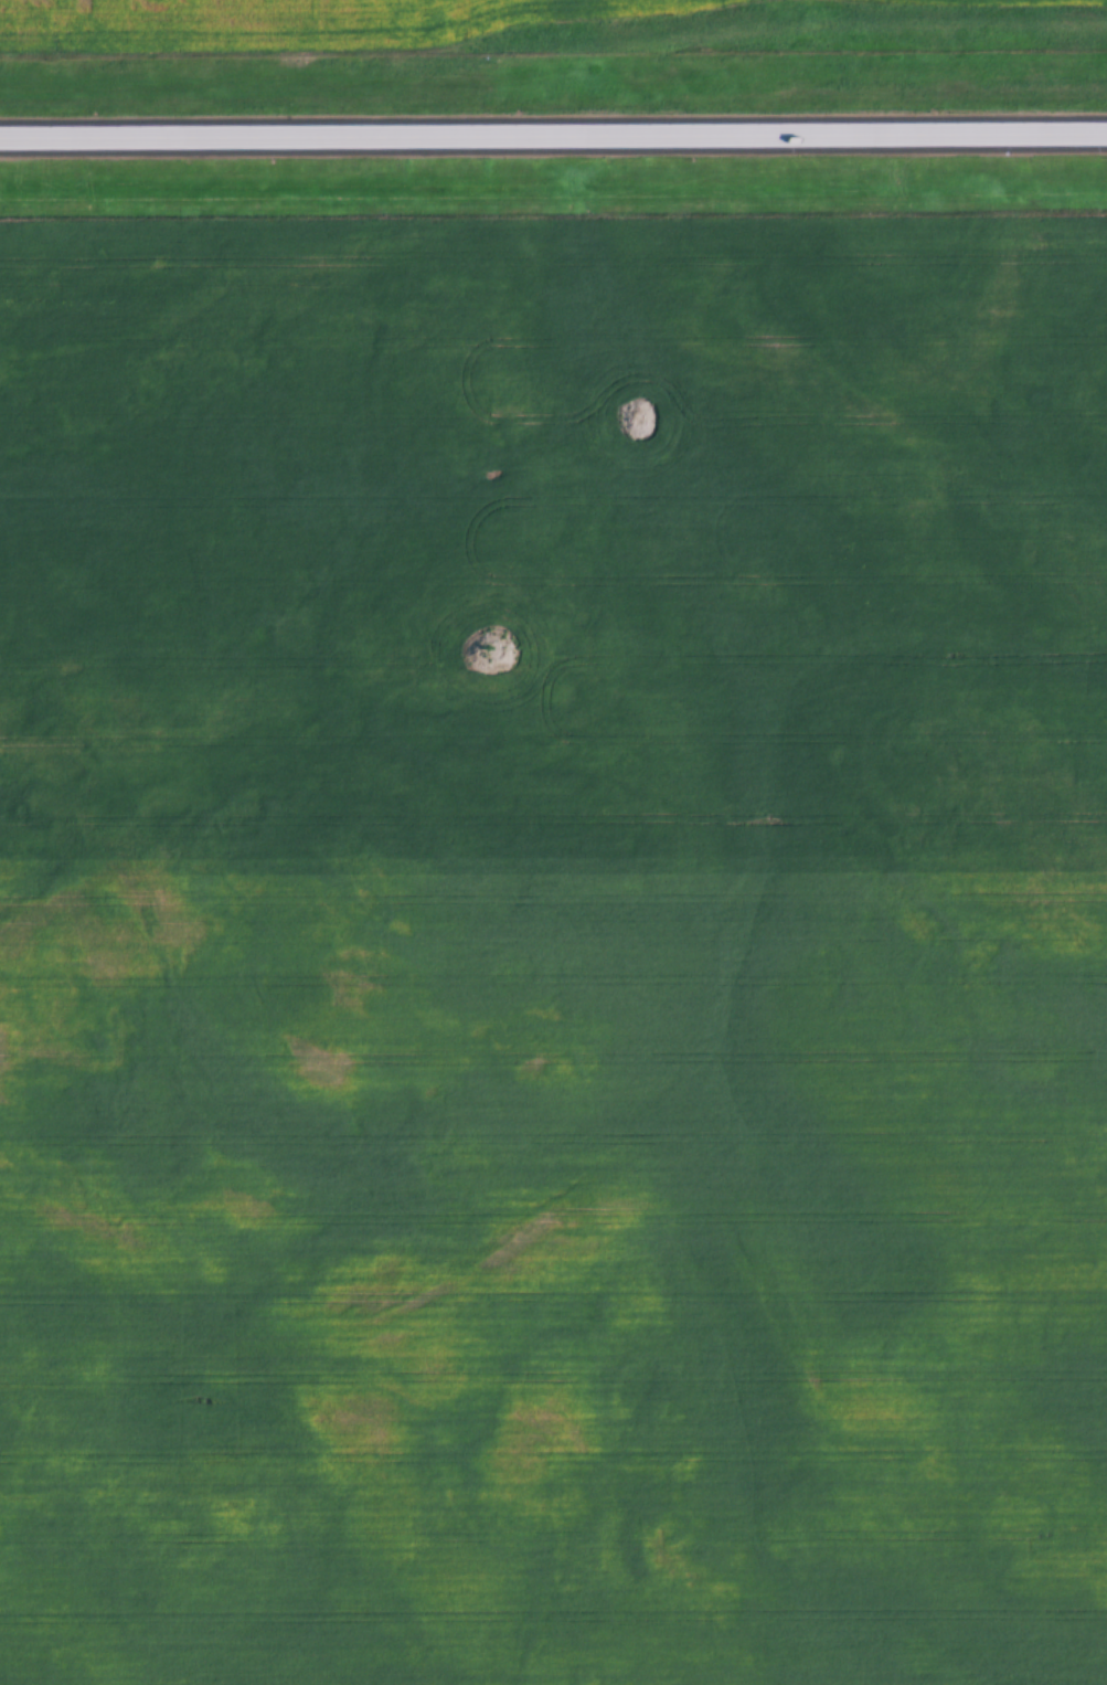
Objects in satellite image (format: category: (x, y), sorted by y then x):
road: (553, 133)
building: (536, 136)

